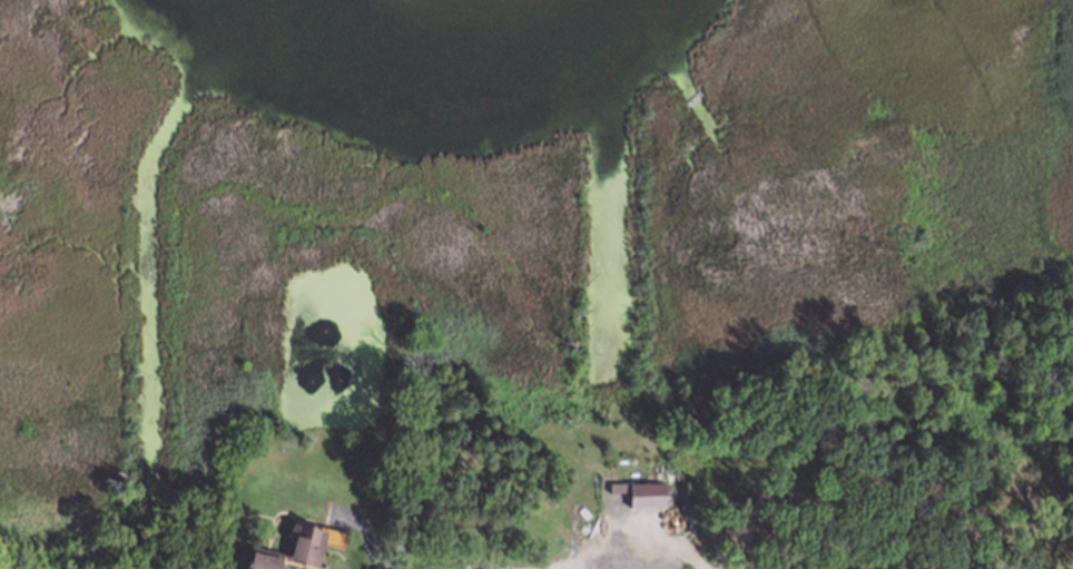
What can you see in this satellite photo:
building: (642, 493)
building: (334, 538)
building: (301, 542)
road: (627, 542)
building: (257, 558)
road: (587, 562)

